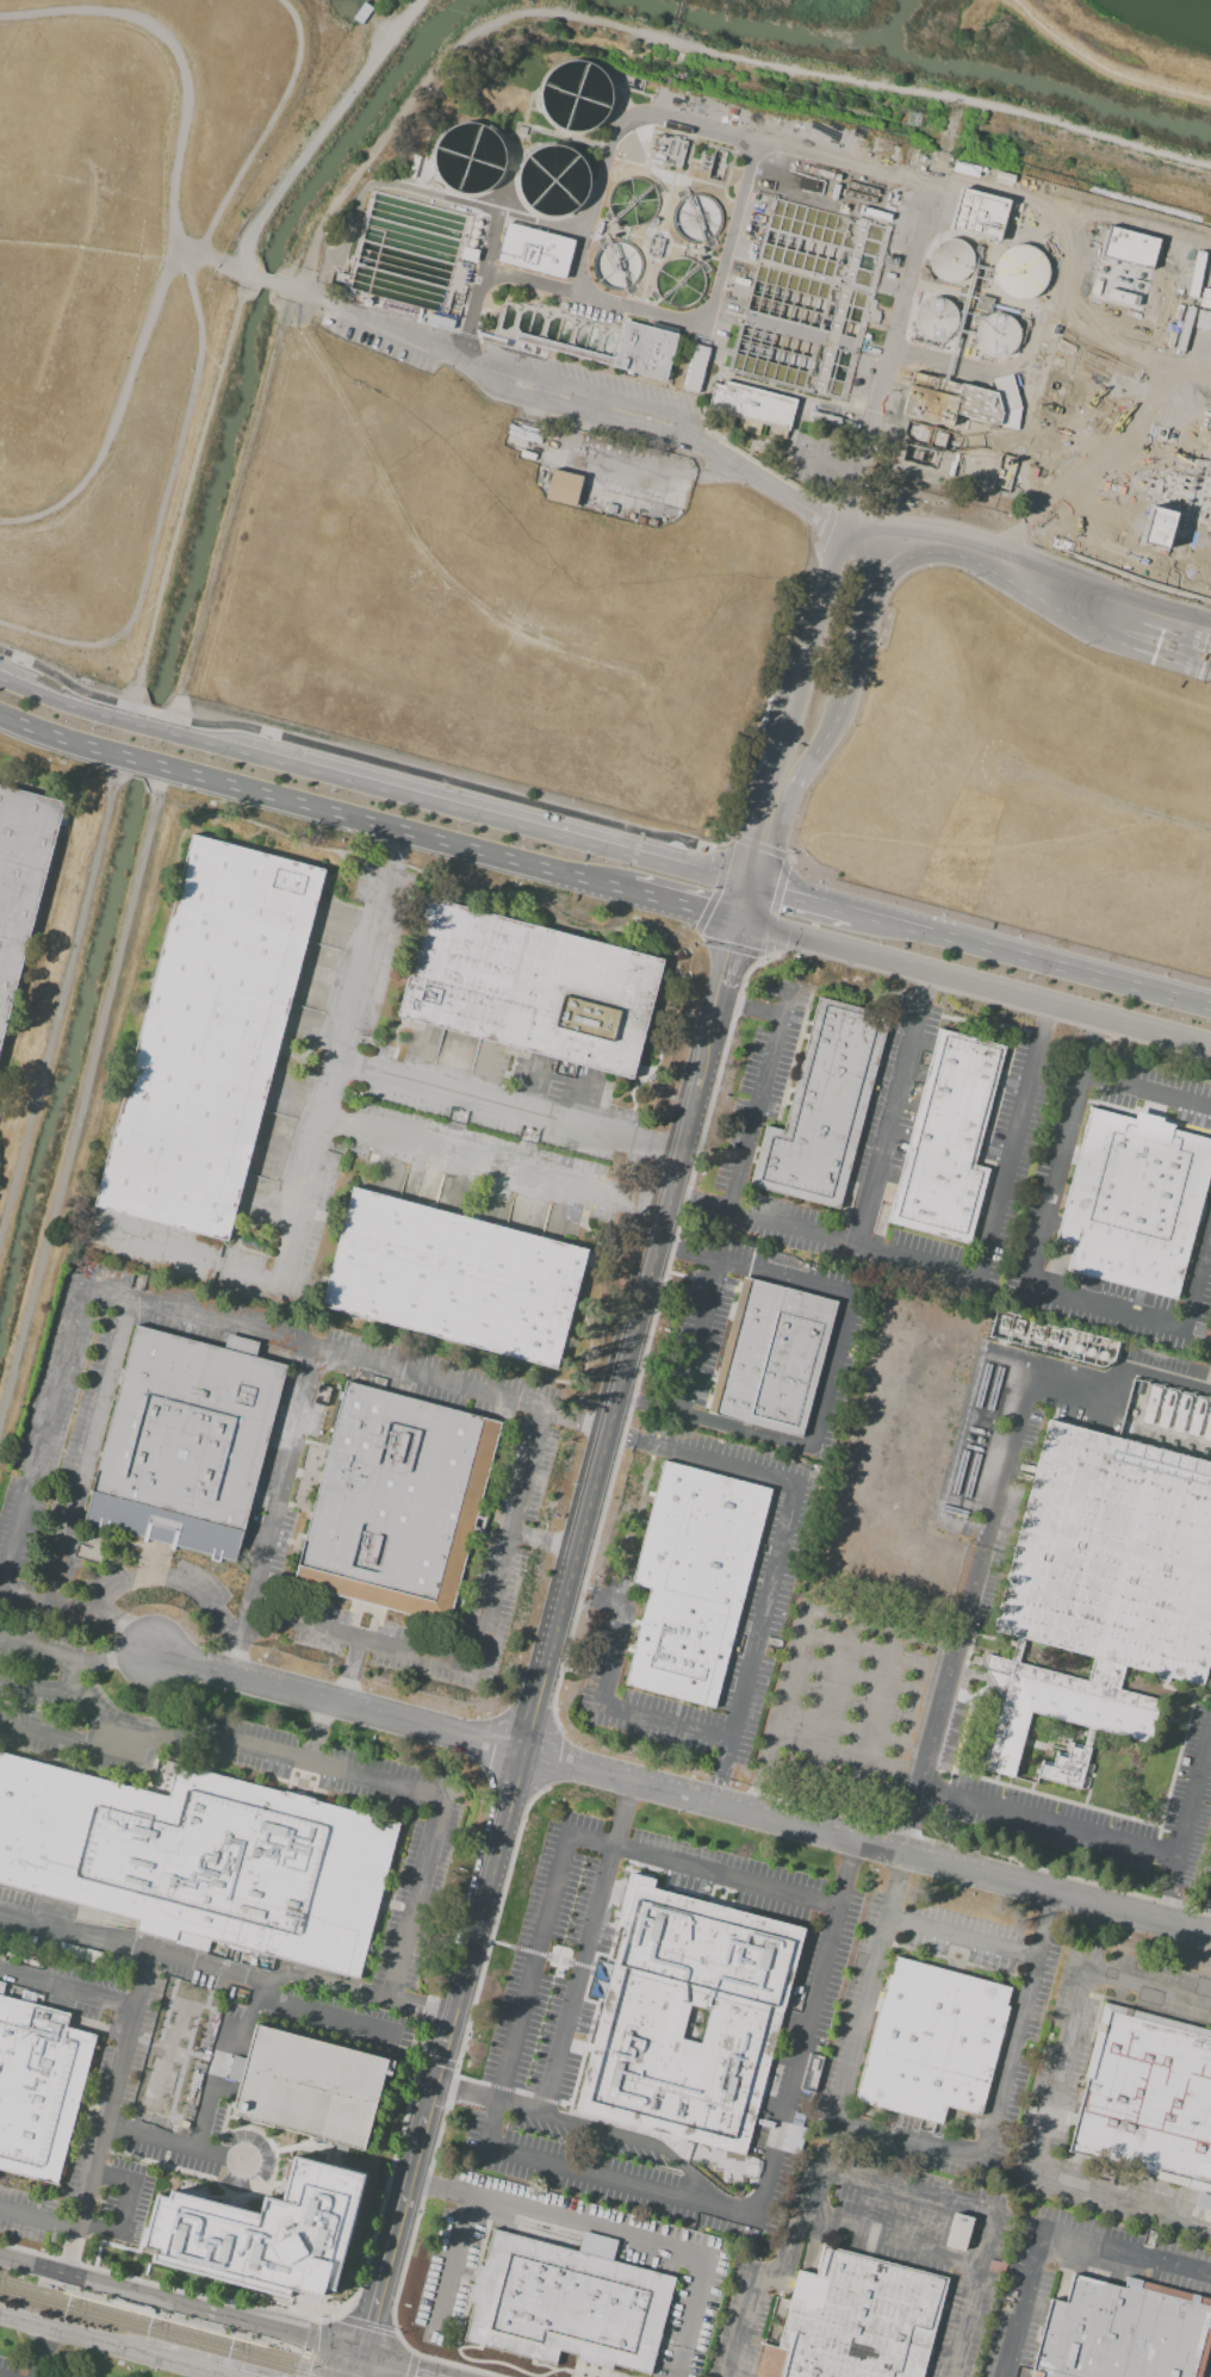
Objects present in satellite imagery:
road: (683, 44)
road: (178, 60)
road: (1103, 67)
power tower: (915, 123)
road: (327, 130)
building: (837, 137)
building: (886, 153)
road: (243, 156)
road: (856, 165)
building: (980, 215)
building: (688, 225)
road: (493, 229)
road: (564, 230)
road: (85, 244)
building: (1128, 247)
building: (535, 250)
road: (180, 259)
building: (950, 260)
storage tank: (950, 260)
road: (250, 271)
building: (1019, 272)
storage tank: (1019, 272)
road: (266, 280)
road: (288, 290)
wastewater plant: (820, 292)
road: (316, 302)
building: (934, 319)
storage tank: (934, 319)
road: (684, 321)
road: (1038, 323)
road: (395, 330)
building: (996, 337)
storage tank: (996, 337)
building: (625, 349)
parking lot: (386, 354)
road: (955, 364)
building: (695, 366)
road: (585, 389)
building: (961, 401)
building: (750, 405)
road: (575, 409)
road: (113, 415)
road: (924, 442)
road: (826, 464)
road: (652, 468)
building: (563, 489)
road: (187, 491)
road: (232, 509)
road: (161, 513)
road: (846, 529)
landfill: (529, 539)
road: (415, 542)
road: (859, 560)
road: (1018, 570)
road: (811, 639)
road: (1141, 645)
road: (128, 657)
road: (845, 685)
road: (62, 694)
road: (155, 721)
road: (57, 739)
road: (371, 759)
road: (143, 764)
road: (465, 805)
road: (760, 812)
road: (396, 833)
traffic signals: (751, 840)
road: (396, 851)
building: (19, 881)
traffic signals: (783, 889)
road: (801, 893)
road: (740, 901)
road: (678, 908)
traffic signals: (702, 914)
traffic signals: (734, 924)
traffic signals: (727, 952)
road: (726, 954)
road: (1033, 954)
road: (973, 985)
building: (528, 987)
road: (924, 987)
road: (747, 1006)
road: (1044, 1020)
building: (207, 1037)
road: (1086, 1043)
road: (80, 1091)
road: (324, 1093)
road: (757, 1099)
road: (1069, 1109)
building: (824, 1110)
road: (887, 1121)
building: (945, 1141)
road: (1012, 1149)
road: (695, 1203)
building: (1130, 1206)
road: (788, 1229)
road: (919, 1258)
road: (780, 1276)
building: (452, 1277)
road: (1199, 1283)
road: (1107, 1303)
road: (697, 1336)
building: (772, 1357)
road: (828, 1369)
road: (1061, 1376)
road: (1169, 1376)
road: (710, 1420)
road: (964, 1434)
road: (627, 1439)
building: (184, 1441)
road: (722, 1466)
building: (395, 1500)
road: (967, 1521)
road: (570, 1551)
building: (1105, 1576)
building: (694, 1583)
road: (594, 1591)
road: (969, 1612)
road: (758, 1625)
road: (884, 1630)
road: (613, 1656)
road: (81, 1659)
road: (836, 1670)
road: (882, 1684)
road: (39, 1688)
road: (788, 1690)
road: (341, 1705)
road: (664, 1724)
road: (874, 1737)
road: (63, 1738)
road: (236, 1742)
road: (129, 1745)
road: (849, 1762)
building: (1069, 1769)
road: (718, 1783)
road: (759, 1794)
road: (621, 1813)
road: (1054, 1818)
road: (1188, 1838)
road: (864, 1844)
building: (200, 1861)
road: (850, 1862)
road: (703, 1868)
road: (899, 1878)
road: (414, 1901)
road: (1044, 1918)
road: (1207, 1922)
road: (1095, 1924)
road: (961, 1936)
road: (129, 1948)
road: (578, 1979)
building: (598, 1979)
building: (0, 1986)
road: (1147, 1986)
road: (67, 1988)
road: (528, 1988)
road: (354, 1990)
road: (862, 2010)
building: (634, 2023)
road: (803, 2035)
building: (933, 2042)
road: (1008, 2052)
road: (1062, 2052)
road: (219, 2059)
building: (309, 2087)
building: (39, 2090)
road: (112, 2091)
road: (448, 2099)
building: (1147, 2099)
road: (150, 2136)
road: (633, 2139)
road: (906, 2141)
road: (111, 2177)
road: (626, 2184)
road: (907, 2192)
road: (1119, 2192)
road: (815, 2193)
building: (1203, 2203)
road: (124, 2208)
road: (38, 2217)
road: (97, 2228)
building: (957, 2232)
building: (254, 2235)
road: (391, 2236)
road: (611, 2236)
road: (894, 2241)
road: (69, 2252)
road: (787, 2253)
road: (1126, 2253)
road: (451, 2260)
road: (970, 2296)
road: (1023, 2304)
building: (567, 2305)
building: (131, 2308)
road: (180, 2308)
road: (329, 2320)
building: (856, 2321)
road: (366, 2326)
road: (740, 2326)
railway: (178, 2328)
building: (1125, 2332)
railway: (159, 2334)
road: (77, 2336)
railway: (266, 2336)
road: (286, 2347)
road: (306, 2347)
road: (45, 2353)
traffic signals: (361, 2356)
road: (411, 2365)
road: (359, 2366)
road: (399, 2366)
road: (190, 2367)

